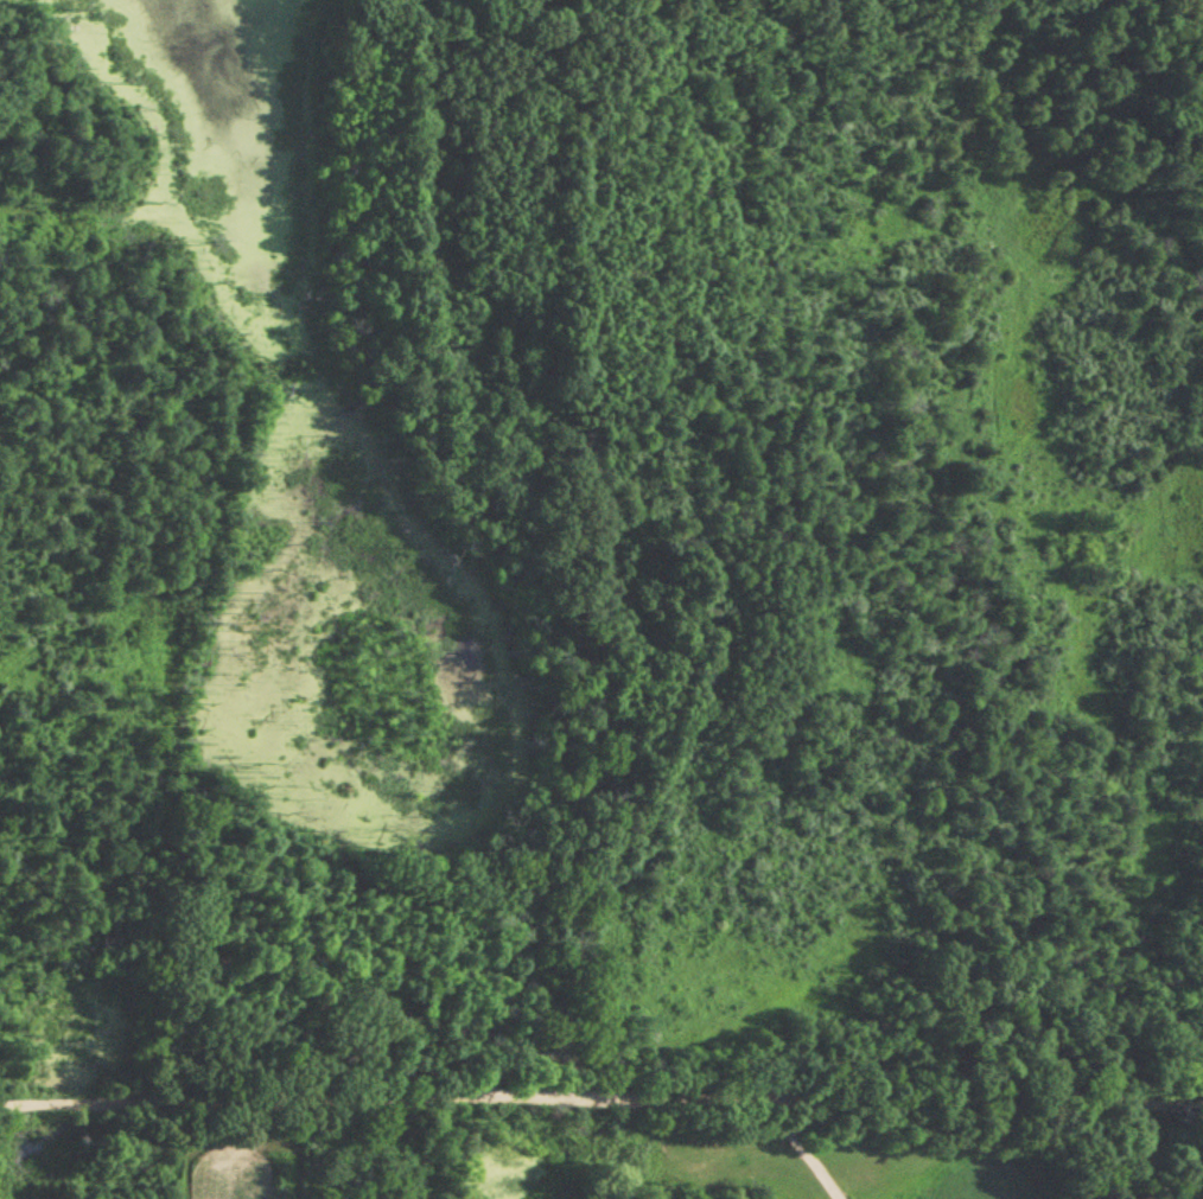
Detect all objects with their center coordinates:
road: (601, 1101)
road: (806, 1147)

